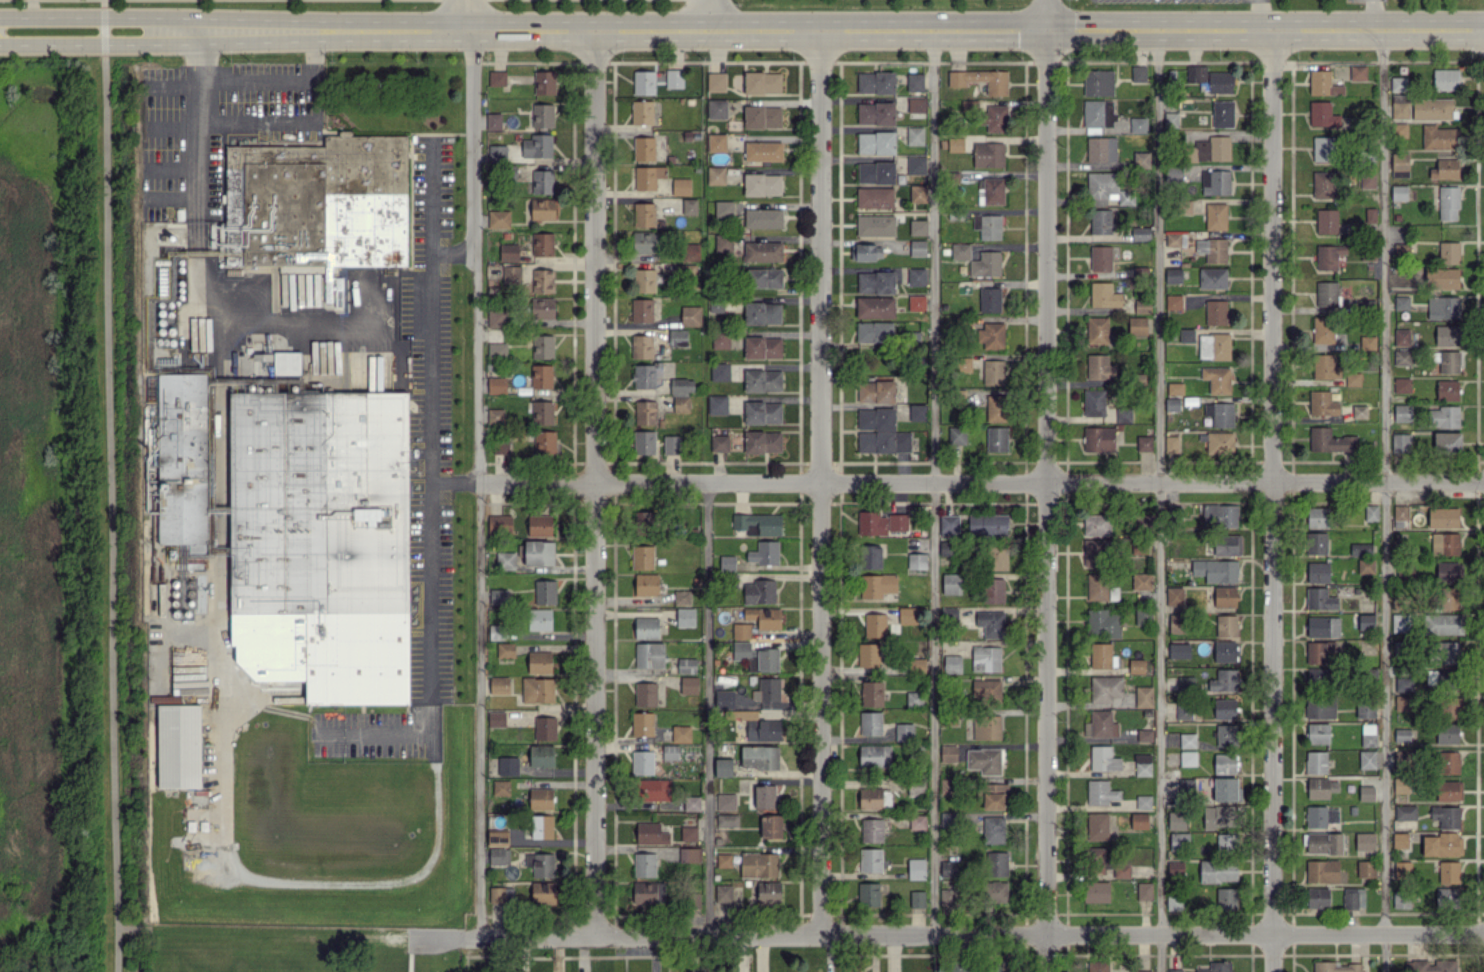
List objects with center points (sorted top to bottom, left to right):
road: (107, 14)
road: (470, 14)
road: (718, 15)
road: (1258, 16)
road: (1369, 16)
road: (53, 28)
road: (412, 29)
road: (1044, 31)
road: (1377, 32)
road: (1434, 32)
road: (107, 41)
building: (1357, 72)
building: (1138, 73)
building: (1196, 73)
road: (273, 77)
building: (497, 78)
building: (674, 78)
building: (1445, 79)
building: (981, 80)
building: (716, 81)
building: (914, 81)
building: (544, 82)
building: (644, 82)
building: (762, 82)
building: (875, 82)
building: (1098, 82)
building: (1220, 82)
building: (1323, 83)
building: (1399, 84)
building: (916, 104)
building: (1400, 106)
building: (717, 108)
building: (1432, 108)
building: (642, 111)
building: (875, 113)
building: (1098, 113)
building: (1222, 113)
road: (196, 114)
building: (1323, 114)
building: (542, 115)
building: (762, 116)
building: (995, 118)
building: (1171, 119)
building: (493, 121)
building: (1138, 124)
building: (1399, 129)
building: (914, 135)
building: (1439, 137)
building: (716, 142)
building: (876, 142)
building: (955, 144)
building: (537, 145)
building: (644, 148)
building: (1323, 148)
building: (1101, 149)
building: (1210, 149)
building: (763, 151)
building: (497, 152)
building: (988, 154)
building: (1141, 159)
building: (1399, 164)
building: (916, 165)
building: (1444, 169)
building: (875, 172)
building: (715, 175)
building: (647, 176)
building: (1367, 179)
building: (542, 181)
building: (1215, 182)
building: (762, 184)
building: (1323, 184)
building: (681, 186)
building: (1106, 189)
building: (990, 190)
building: (1399, 192)
building: (918, 193)
building: (874, 197)
building: (1448, 202)
building: (689, 206)
building: (316, 207)
building: (723, 208)
building: (543, 209)
building: (643, 214)
building: (1370, 214)
building: (1215, 216)
building: (498, 218)
building: (762, 218)
building: (1100, 221)
building: (1326, 221)
building: (875, 225)
building: (987, 225)
building: (918, 227)
building: (1140, 233)
building: (1175, 238)
building: (643, 241)
building: (542, 243)
building: (917, 247)
building: (1212, 249)
building: (763, 251)
building: (960, 251)
building: (509, 252)
building: (691, 252)
building: (866, 252)
building: (1448, 252)
building: (1328, 256)
building: (1100, 257)
building: (986, 264)
building: (1173, 275)
building: (916, 276)
building: (764, 277)
building: (1212, 278)
building: (1445, 278)
building: (542, 280)
building: (644, 280)
building: (875, 282)
building: (1326, 293)
building: (1104, 295)
building: (989, 299)
building: (1173, 301)
building: (916, 302)
building: (1401, 302)
building: (717, 305)
building: (1142, 305)
building: (542, 307)
building: (875, 307)
building: (1443, 307)
building: (641, 310)
building: (1215, 311)
building: (762, 313)
building: (690, 315)
building: (498, 317)
building: (1137, 325)
building: (1097, 329)
building: (1322, 329)
building: (874, 331)
building: (991, 335)
building: (1184, 335)
building: (1447, 335)
building: (1401, 336)
building: (677, 337)
building: (720, 340)
building: (1367, 342)
building: (1214, 345)
building: (542, 346)
building: (641, 346)
building: (762, 347)
building: (497, 349)
building: (1402, 357)
building: (1447, 361)
building: (287, 362)
building: (964, 364)
building: (1099, 367)
building: (1325, 367)
road: (430, 368)
building: (719, 371)
building: (993, 371)
building: (647, 375)
building: (541, 376)
building: (1352, 378)
building: (1216, 379)
building: (762, 380)
building: (1402, 384)
building: (497, 385)
building: (681, 385)
building: (1174, 388)
building: (1447, 390)
building: (876, 391)
building: (1094, 402)
building: (681, 403)
building: (1322, 403)
building: (717, 404)
building: (997, 408)
building: (1359, 411)
building: (542, 412)
building: (645, 412)
building: (762, 412)
building: (917, 412)
building: (1402, 412)
building: (1220, 413)
building: (1123, 414)
building: (496, 416)
building: (1444, 416)
building: (875, 418)
building: (957, 434)
building: (996, 439)
building: (1098, 439)
building: (1329, 440)
building: (762, 441)
building: (883, 441)
building: (1446, 441)
building: (545, 442)
building: (644, 442)
building: (1219, 442)
building: (1401, 442)
building: (719, 443)
building: (1144, 443)
building: (671, 444)
building: (1171, 444)
building: (505, 445)
road: (982, 482)
road: (480, 483)
road: (932, 483)
road: (598, 484)
road: (822, 484)
road: (1044, 486)
road: (1274, 501)
road: (1384, 501)
road: (1156, 502)
building: (1371, 512)
building: (1400, 512)
road: (107, 513)
building: (1219, 514)
building: (1317, 517)
building: (1443, 517)
building: (302, 521)
building: (645, 521)
building: (880, 522)
building: (499, 523)
building: (757, 523)
building: (987, 524)
building: (1096, 524)
building: (539, 525)
building: (948, 525)
building: (1315, 542)
building: (1445, 543)
building: (1227, 544)
building: (1360, 548)
building: (539, 552)
building: (764, 552)
building: (1096, 552)
building: (998, 556)
building: (642, 557)
building: (869, 557)
building: (505, 559)
building: (916, 560)
building: (727, 563)
building: (1365, 566)
building: (1216, 570)
building: (1317, 572)
building: (1448, 572)
building: (1142, 581)
building: (950, 583)
building: (646, 584)
building: (877, 585)
building: (1099, 587)
building: (994, 590)
building: (545, 591)
building: (759, 591)
building: (498, 595)
building: (1174, 595)
building: (1224, 596)
building: (681, 597)
building: (1448, 597)
building: (1319, 598)
building: (908, 615)
building: (685, 617)
building: (764, 617)
building: (1139, 617)
building: (539, 619)
building: (1365, 621)
building: (1103, 622)
building: (1176, 622)
building: (1400, 622)
building: (990, 623)
building: (1449, 623)
building: (875, 625)
building: (1226, 625)
building: (1323, 626)
building: (646, 627)
building: (741, 630)
building: (496, 631)
building: (505, 649)
building: (1179, 650)
building: (1225, 651)
building: (1319, 651)
building: (1447, 652)
building: (649, 654)
building: (868, 654)
road: (430, 656)
building: (756, 656)
building: (986, 658)
building: (540, 663)
building: (951, 663)
building: (918, 664)
building: (686, 665)
building: (1136, 665)
building: (1318, 676)
building: (1223, 680)
building: (689, 684)
building: (1402, 684)
building: (499, 685)
building: (1104, 688)
building: (537, 689)
building: (766, 690)
building: (986, 691)
building: (645, 693)
building: (871, 693)
building: (1143, 696)
building: (913, 698)
building: (724, 699)
building: (1402, 702)
building: (1320, 706)
building: (1451, 707)
building: (1224, 708)
building: (1365, 708)
road: (707, 710)
building: (1184, 710)
building: (745, 714)
building: (496, 718)
building: (642, 723)
building: (870, 723)
building: (1100, 724)
building: (986, 726)
building: (544, 728)
building: (763, 730)
building: (904, 732)
building: (681, 733)
building: (1318, 733)
building: (1446, 733)
building: (1144, 735)
building: (1226, 735)
building: (1368, 735)
building: (1402, 735)
building: (180, 745)
building: (670, 751)
building: (948, 753)
building: (541, 755)
building: (874, 755)
building: (759, 757)
building: (1103, 758)
building: (1187, 758)
building: (1367, 759)
building: (984, 760)
building: (1315, 761)
building: (642, 762)
building: (1224, 762)
building: (1447, 762)
building: (1142, 764)
building: (508, 765)
building: (723, 767)
building: (1401, 785)
building: (946, 786)
building: (501, 787)
building: (1321, 787)
building: (652, 789)
building: (1225, 789)
building: (1448, 790)
building: (1100, 792)
building: (1366, 793)
building: (994, 795)
building: (764, 796)
building: (541, 798)
building: (874, 798)
building: (725, 801)
building: (1143, 801)
building: (691, 803)
building: (1405, 812)
building: (1218, 816)
building: (1320, 816)
building: (1445, 816)
building: (946, 819)
building: (727, 820)
building: (1139, 820)
building: (1176, 820)
building: (917, 821)
building: (771, 825)
building: (541, 826)
building: (1097, 826)
building: (993, 829)
building: (871, 830)
building: (650, 833)
building: (688, 833)
building: (496, 836)
building: (1178, 840)
building: (1399, 840)
building: (1226, 841)
building: (1364, 841)
building: (1324, 843)
building: (1442, 844)
building: (499, 855)
building: (689, 855)
building: (723, 860)
building: (870, 860)
building: (1096, 860)
building: (997, 863)
building: (540, 864)
building: (644, 864)
building: (759, 864)
building: (916, 868)
building: (1175, 868)
building: (1366, 868)
building: (948, 869)
building: (1121, 870)
building: (1218, 870)
building: (1321, 870)
building: (1448, 871)
building: (1144, 890)
building: (644, 891)
building: (997, 891)
building: (1096, 891)
building: (543, 892)
building: (723, 892)
building: (769, 892)
building: (500, 894)
building: (868, 894)
building: (1318, 897)
building: (1353, 897)
building: (1447, 897)
building: (917, 898)
building: (946, 898)
building: (1226, 899)
building: (1401, 899)
building: (694, 900)
building: (1173, 902)
road: (942, 937)
park: (288, 951)
building: (957, 966)
building: (1097, 966)
building: (1431, 966)
building: (1216, 967)
building: (1335, 967)
building: (987, 969)
building: (1174, 970)
building: (1142, 971)

